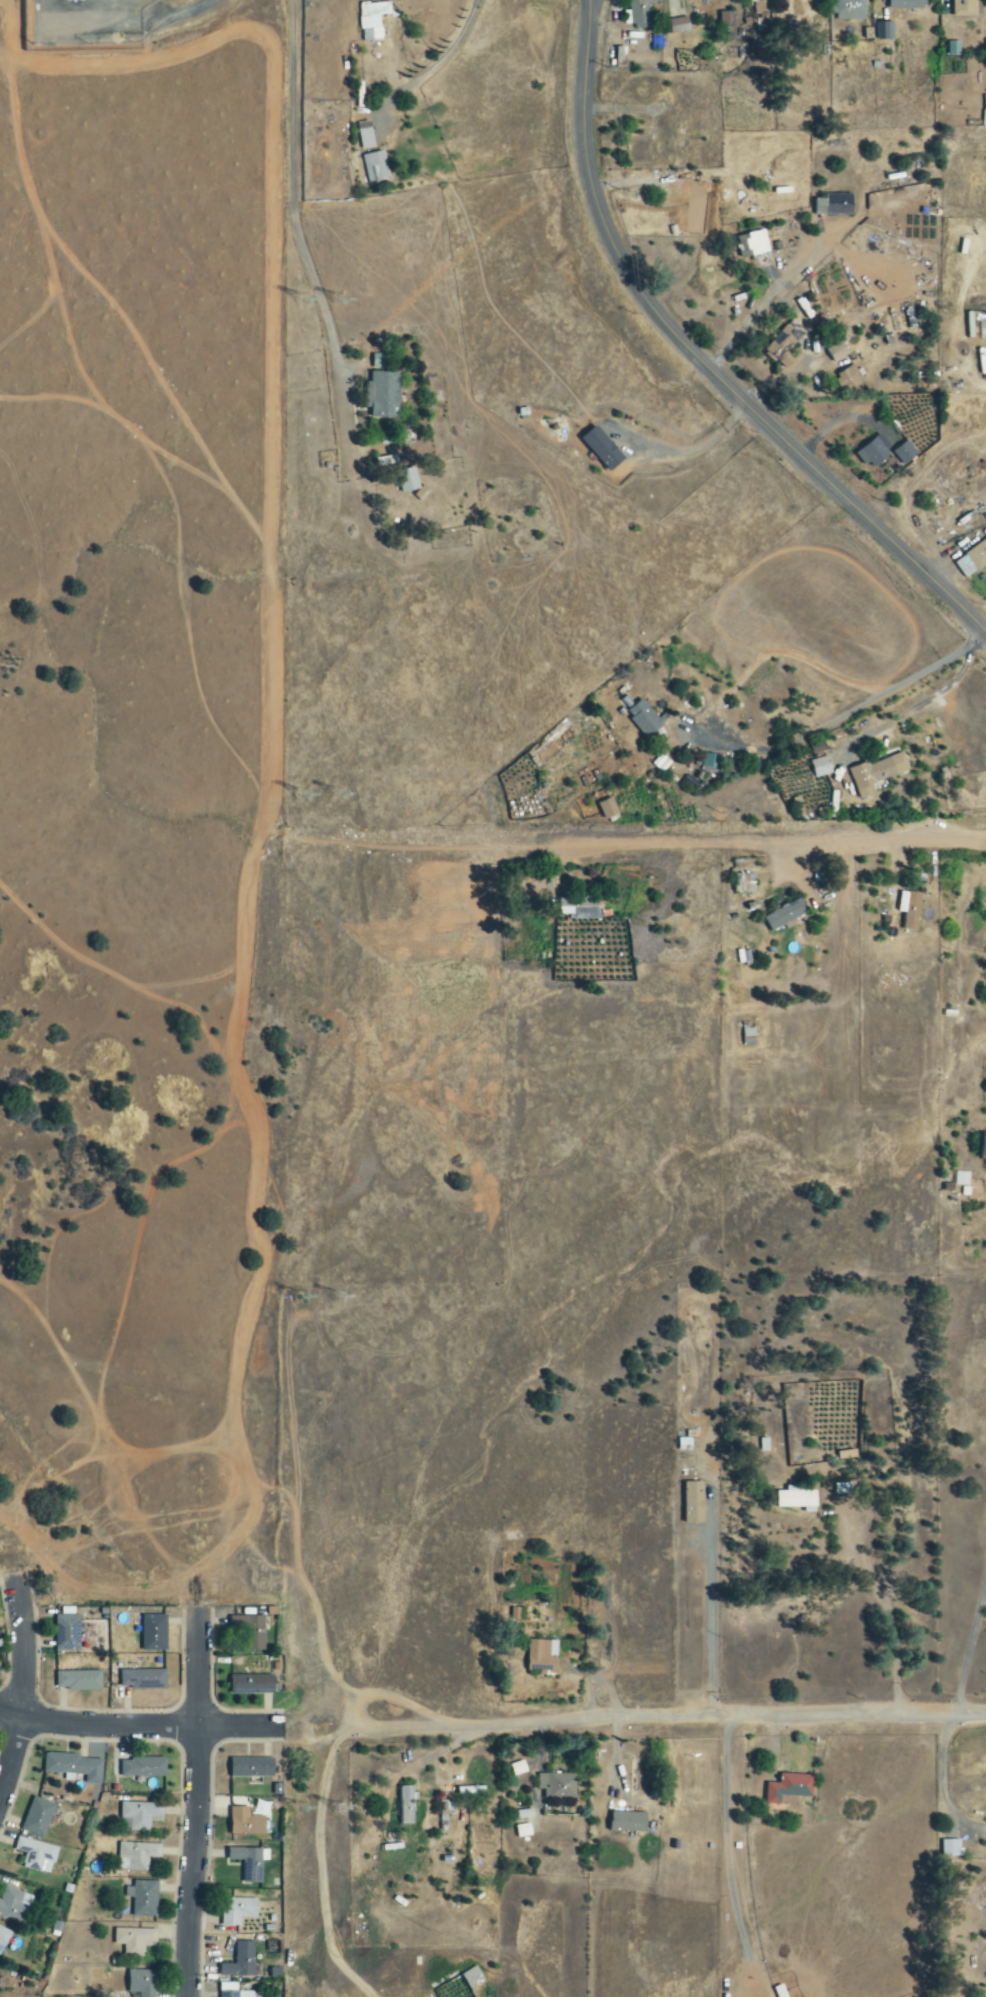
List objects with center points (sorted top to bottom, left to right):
building: (907, 4)
building: (967, 7)
building: (847, 9)
road: (200, 10)
building: (640, 13)
building: (726, 19)
building: (372, 21)
power substation: (94, 25)
building: (679, 25)
building: (887, 30)
building: (954, 48)
building: (375, 166)
building: (834, 205)
building: (753, 244)
power tower: (307, 307)
power tower: (343, 309)
building: (782, 344)
building: (836, 351)
road: (699, 360)
building: (844, 362)
road: (543, 363)
building: (848, 377)
building: (383, 394)
building: (602, 448)
building: (872, 453)
building: (905, 453)
building: (408, 480)
road: (661, 482)
road: (752, 558)
building: (972, 560)
road: (849, 708)
building: (641, 715)
building: (711, 761)
building: (820, 767)
building: (876, 773)
power tower: (311, 799)
power tower: (343, 800)
building: (608, 808)
road: (767, 842)
building: (744, 883)
building: (581, 905)
building: (910, 909)
building: (785, 914)
building: (983, 1148)
power tower: (316, 1294)
power tower: (350, 1296)
building: (796, 1498)
building: (693, 1503)
building: (250, 1631)
building: (153, 1633)
building: (67, 1634)
road: (969, 1648)
building: (542, 1656)
building: (142, 1680)
building: (78, 1681)
building: (251, 1685)
road: (23, 1692)
road: (356, 1709)
road: (729, 1717)
road: (118, 1727)
building: (75, 1768)
building: (143, 1768)
building: (252, 1768)
road: (941, 1784)
building: (557, 1789)
building: (789, 1789)
power tower: (314, 1804)
road: (199, 1806)
power tower: (348, 1806)
building: (406, 1806)
building: (138, 1816)
building: (37, 1818)
building: (246, 1823)
building: (628, 1823)
building: (522, 1831)
road: (725, 1838)
building: (951, 1849)
building: (36, 1855)
building: (136, 1856)
road: (320, 1862)
building: (249, 1863)
building: (143, 1899)
building: (13, 1904)
building: (237, 1911)
building: (3, 1937)
building: (134, 1941)
building: (240, 1962)
building: (472, 1977)
building: (141, 1983)
building: (236, 1994)

